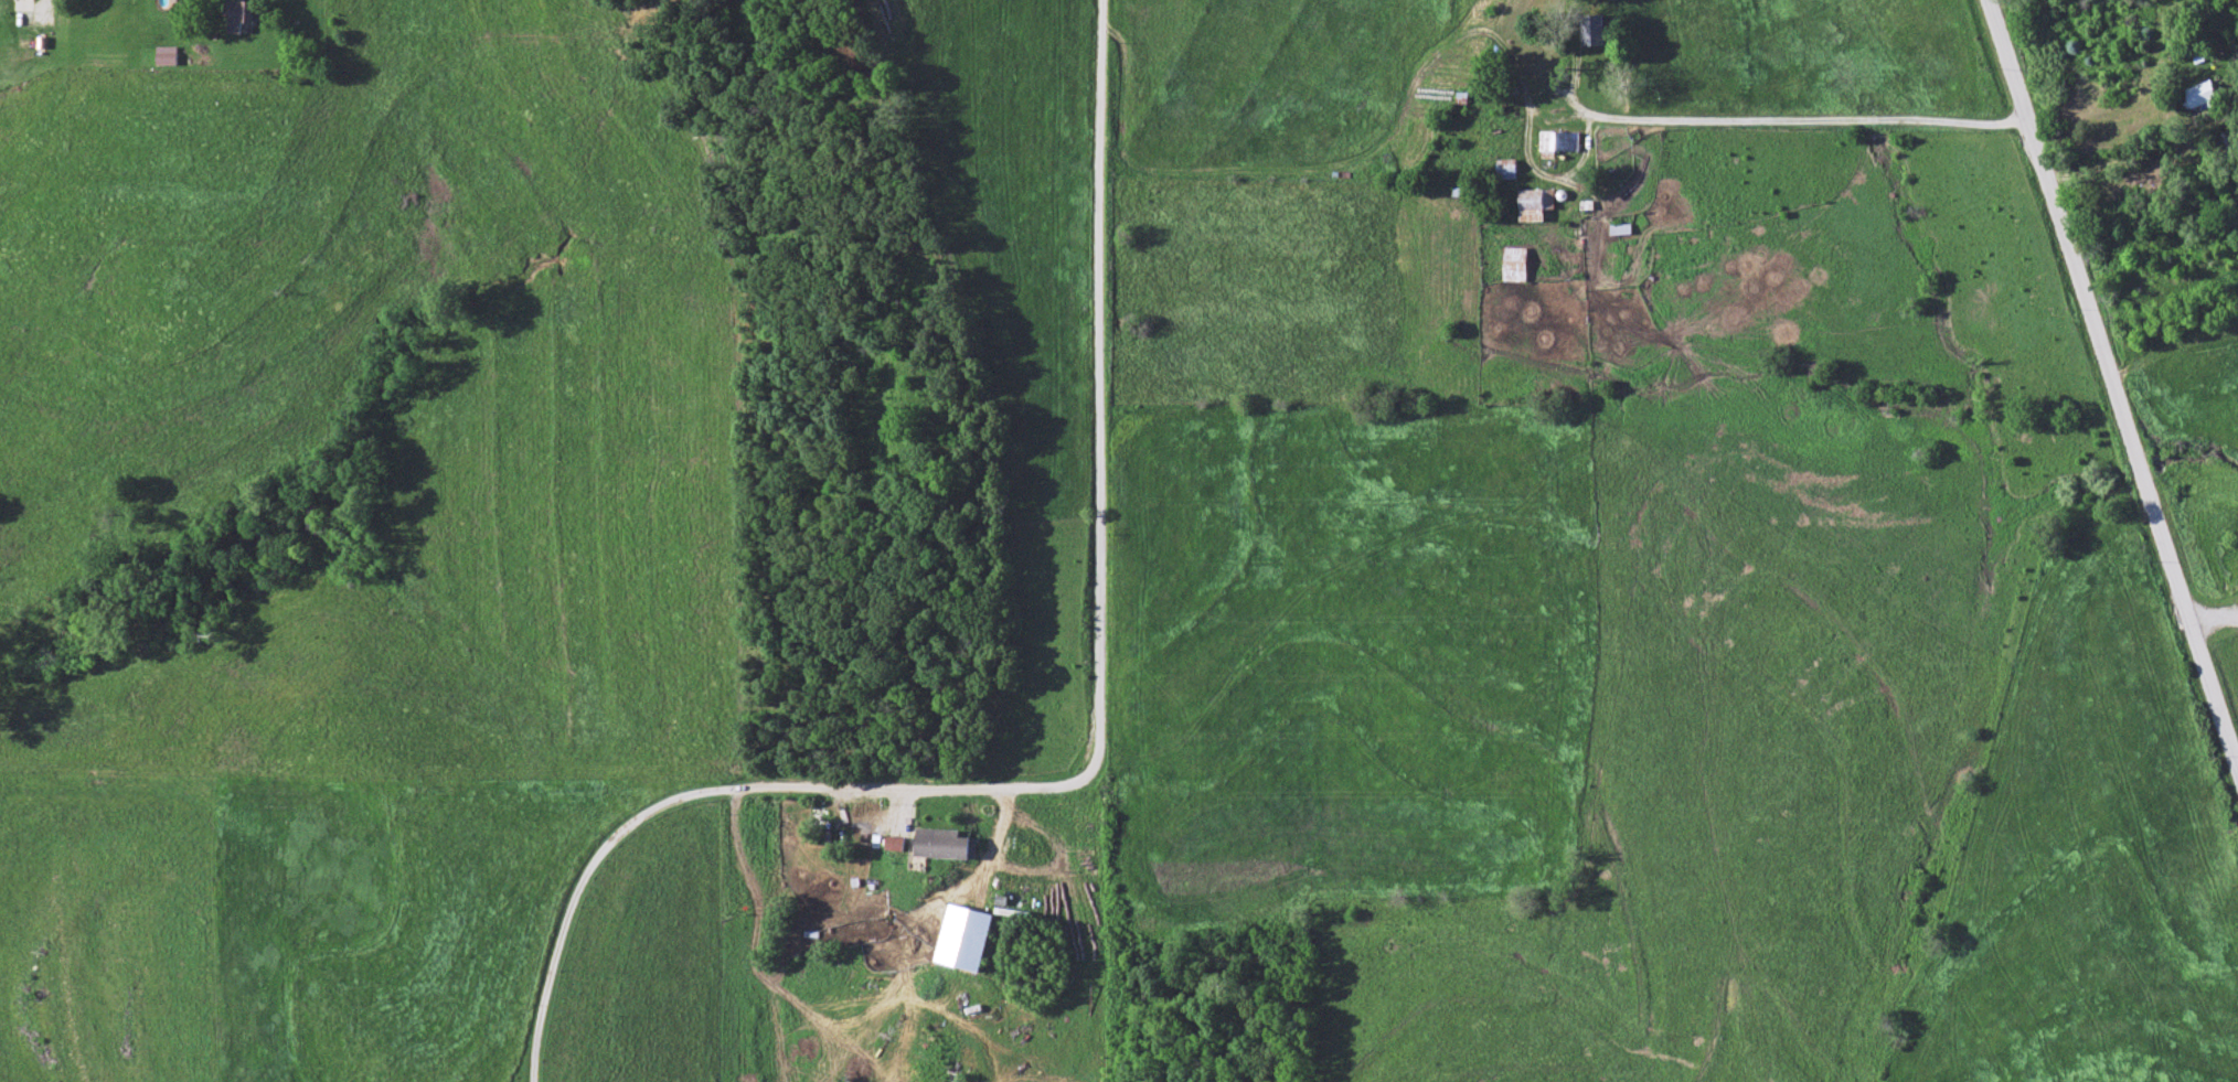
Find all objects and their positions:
road: (1802, 122)
road: (2117, 377)
road: (1055, 729)

